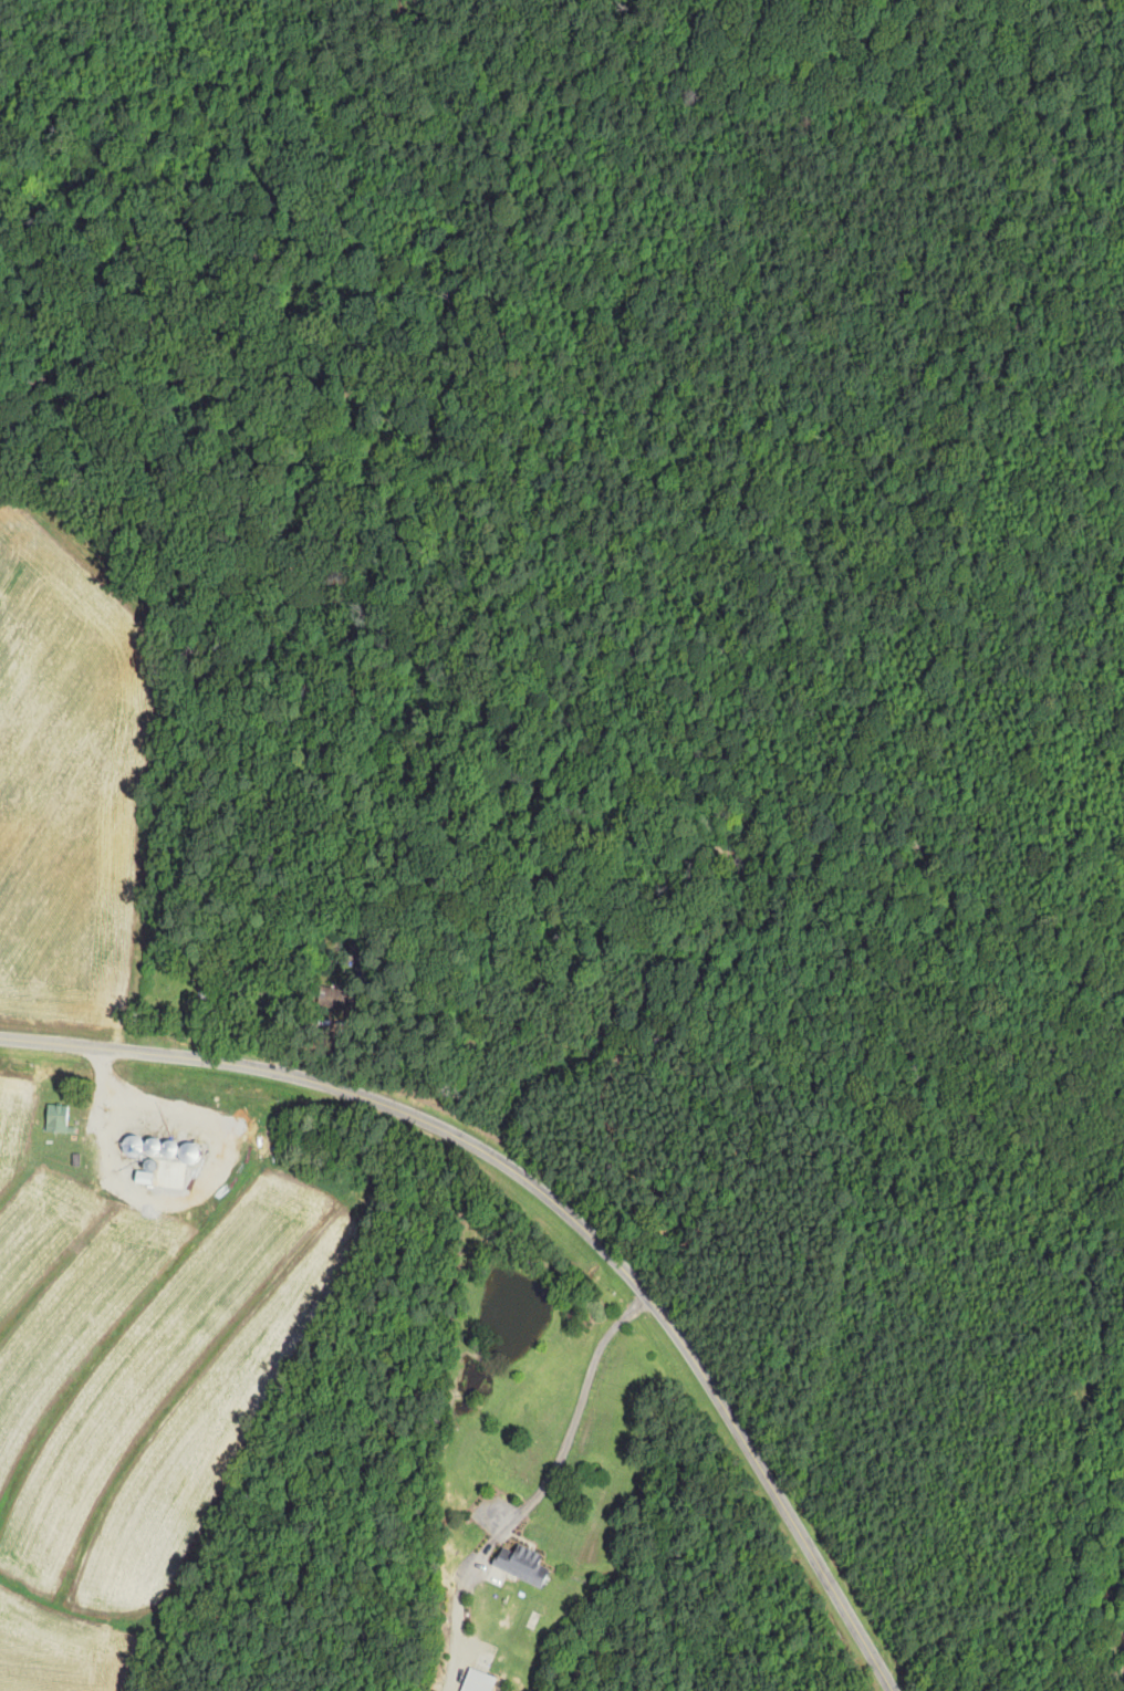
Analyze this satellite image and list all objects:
building: (337, 998)
building: (58, 1118)
road: (196, 1187)
road: (554, 1207)
road: (571, 1428)
building: (523, 1565)
building: (478, 1681)

